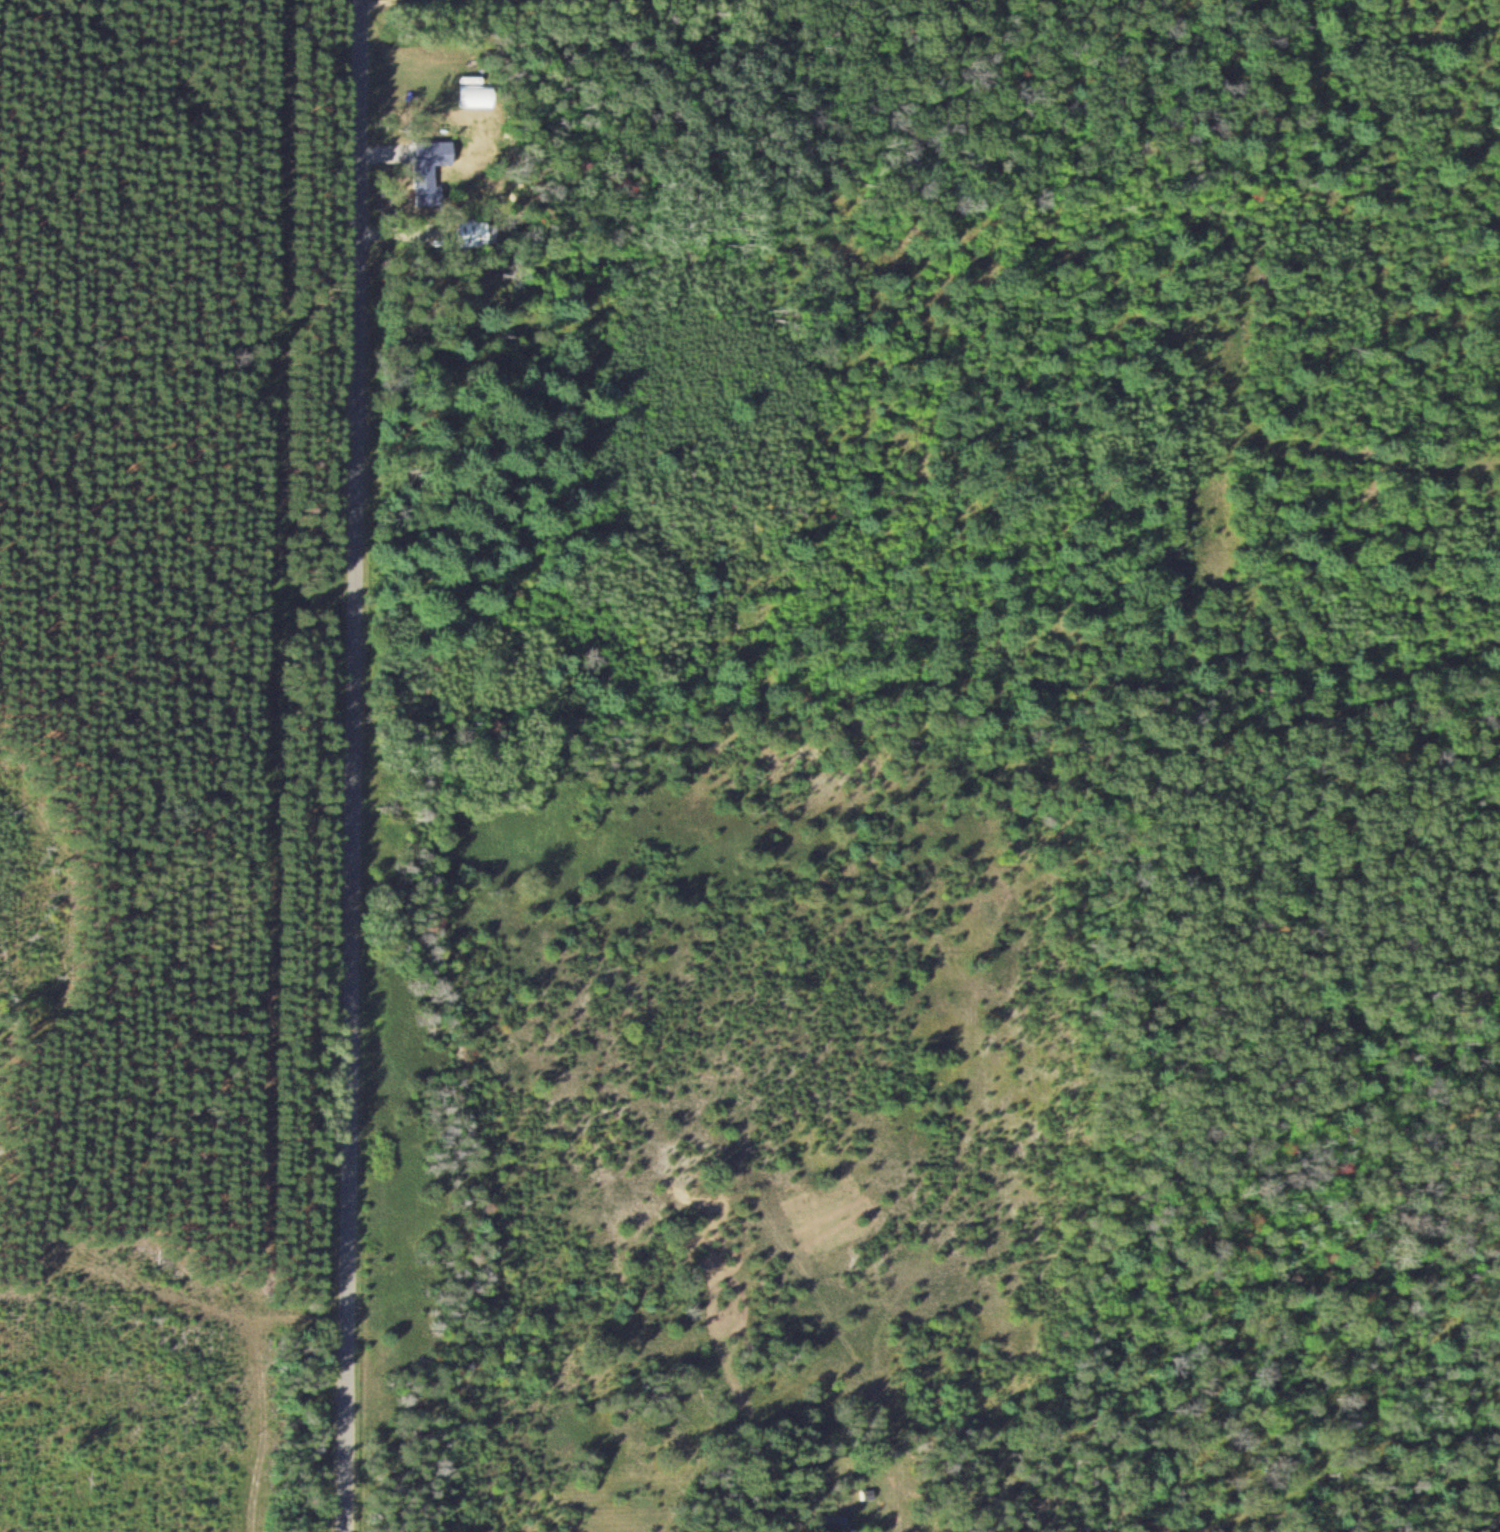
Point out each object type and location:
building: (477, 95)
building: (431, 190)
building: (480, 233)
road: (358, 766)

